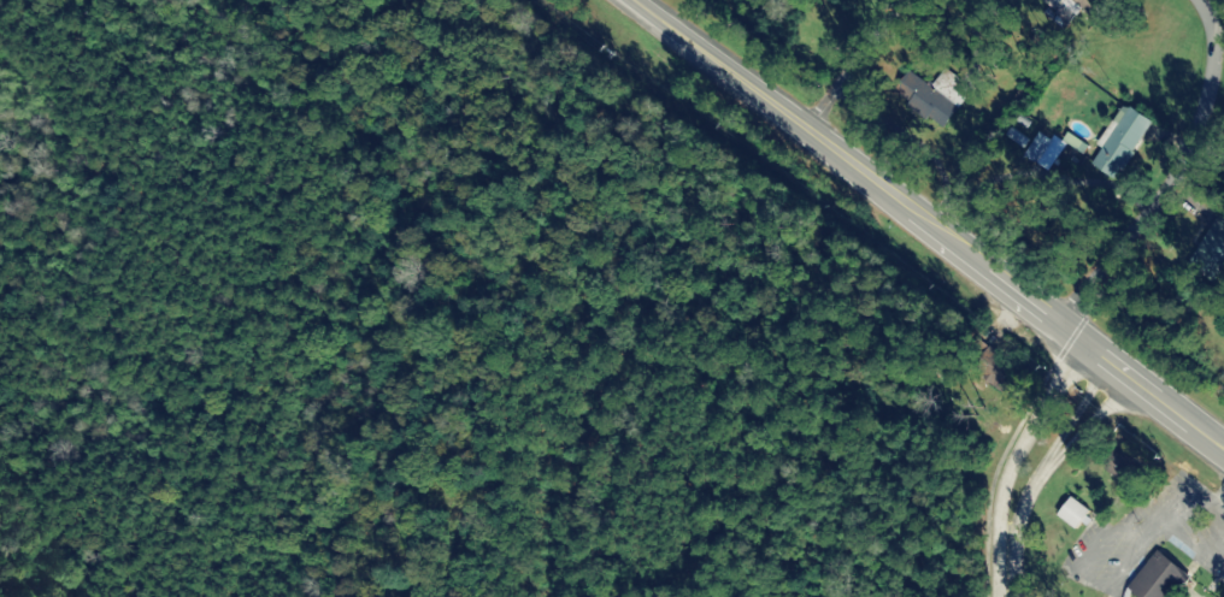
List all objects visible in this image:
building: (1076, 7)
road: (828, 59)
building: (942, 95)
road: (773, 108)
building: (1120, 140)
building: (1044, 149)
road: (1140, 165)
building: (1208, 249)
road: (1072, 332)
road: (1010, 460)
building: (1122, 466)
building: (1075, 512)
building: (1159, 577)

